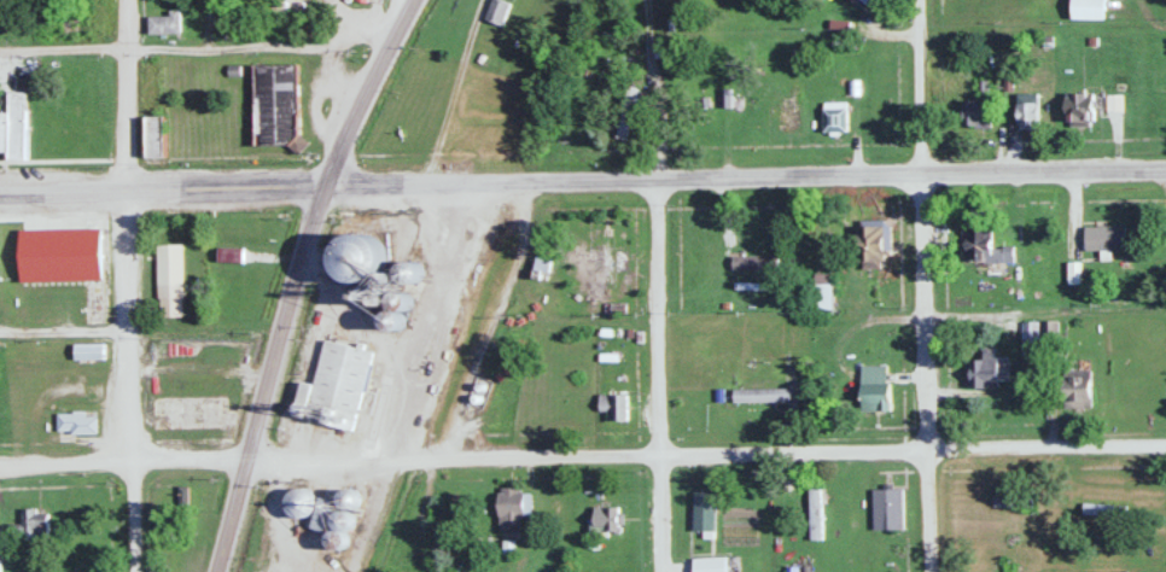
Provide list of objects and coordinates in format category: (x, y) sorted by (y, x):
building: (868, 2)
building: (1088, 10)
building: (497, 12)
building: (163, 24)
road: (194, 46)
road: (917, 86)
road: (653, 89)
road: (365, 91)
road: (124, 94)
building: (274, 101)
building: (1027, 109)
building: (1080, 109)
building: (976, 113)
building: (787, 115)
building: (834, 116)
building: (16, 122)
building: (476, 122)
building: (4, 130)
building: (155, 134)
road: (745, 176)
road: (162, 188)
building: (689, 234)
building: (1104, 239)
building: (868, 252)
building: (987, 253)
building: (607, 256)
building: (356, 261)
building: (754, 263)
building: (409, 273)
building: (169, 280)
building: (822, 292)
building: (397, 311)
road: (63, 329)
building: (783, 334)
building: (1050, 334)
building: (1030, 338)
building: (88, 352)
road: (923, 373)
building: (989, 373)
road: (658, 374)
road: (268, 378)
road: (128, 380)
building: (336, 384)
building: (1131, 387)
building: (874, 389)
building: (1077, 390)
building: (706, 402)
building: (613, 410)
building: (75, 424)
road: (913, 448)
road: (330, 461)
building: (299, 504)
building: (509, 508)
building: (321, 509)
building: (887, 509)
building: (704, 514)
building: (605, 523)
building: (766, 523)
building: (29, 526)
building: (508, 542)
building: (709, 566)

